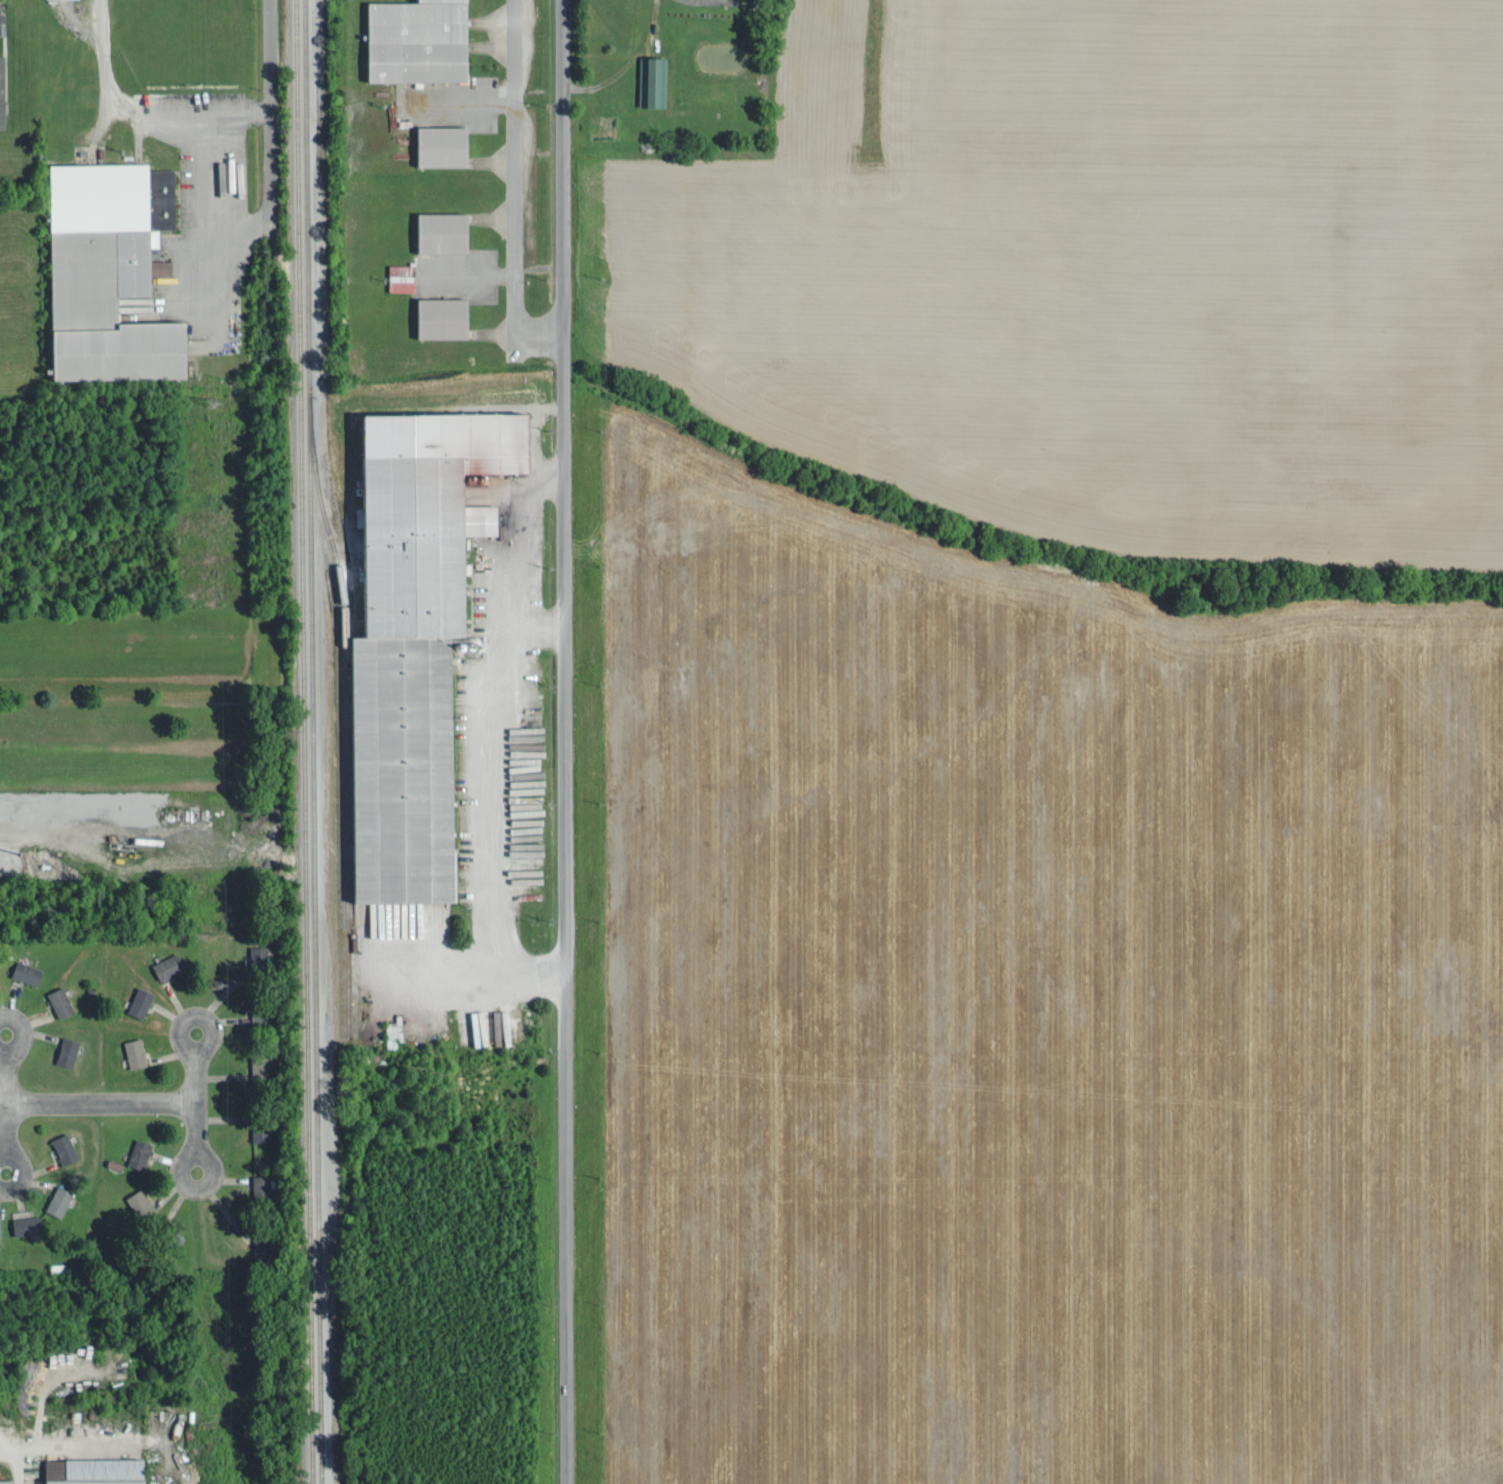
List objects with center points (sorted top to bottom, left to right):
building: (411, 40)
building: (649, 80)
road: (270, 89)
building: (436, 145)
building: (227, 170)
building: (436, 231)
building: (102, 271)
building: (397, 276)
building: (227, 293)
building: (436, 317)
road: (536, 627)
building: (405, 640)
railway: (307, 659)
road: (490, 708)
railway: (317, 742)
road: (564, 742)
building: (256, 959)
building: (168, 964)
building: (27, 971)
road: (464, 973)
building: (60, 1001)
building: (140, 1001)
road: (207, 1026)
building: (391, 1033)
road: (19, 1043)
building: (68, 1050)
building: (135, 1051)
building: (255, 1065)
road: (7, 1096)
road: (196, 1096)
road: (98, 1102)
building: (262, 1129)
building: (64, 1147)
building: (140, 1152)
road: (16, 1156)
road: (190, 1182)
building: (260, 1187)
building: (59, 1199)
building: (140, 1202)
building: (0, 1225)
building: (29, 1225)
building: (264, 1248)
building: (99, 1470)
building: (8, 1481)

